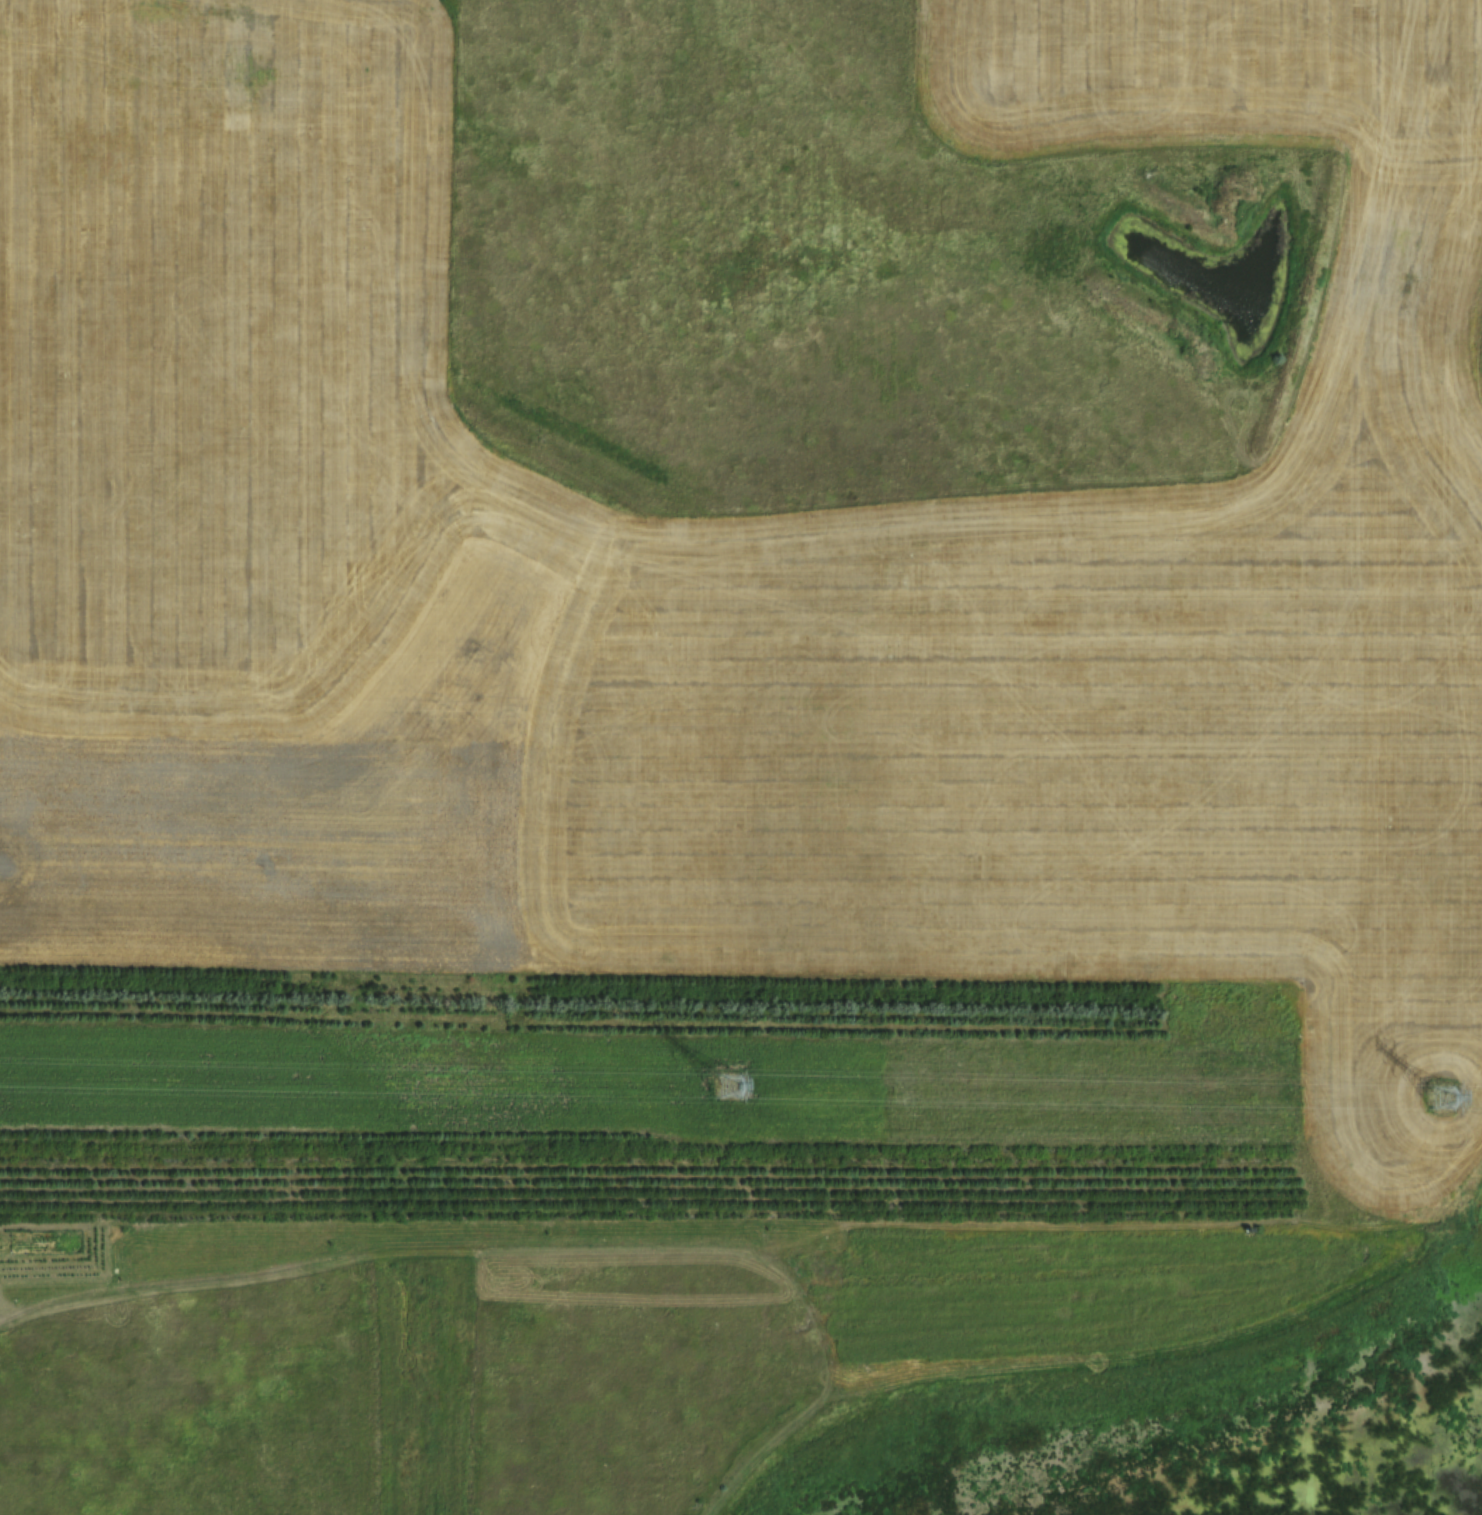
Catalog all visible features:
power tower: (725, 1085)
power tower: (1444, 1096)

